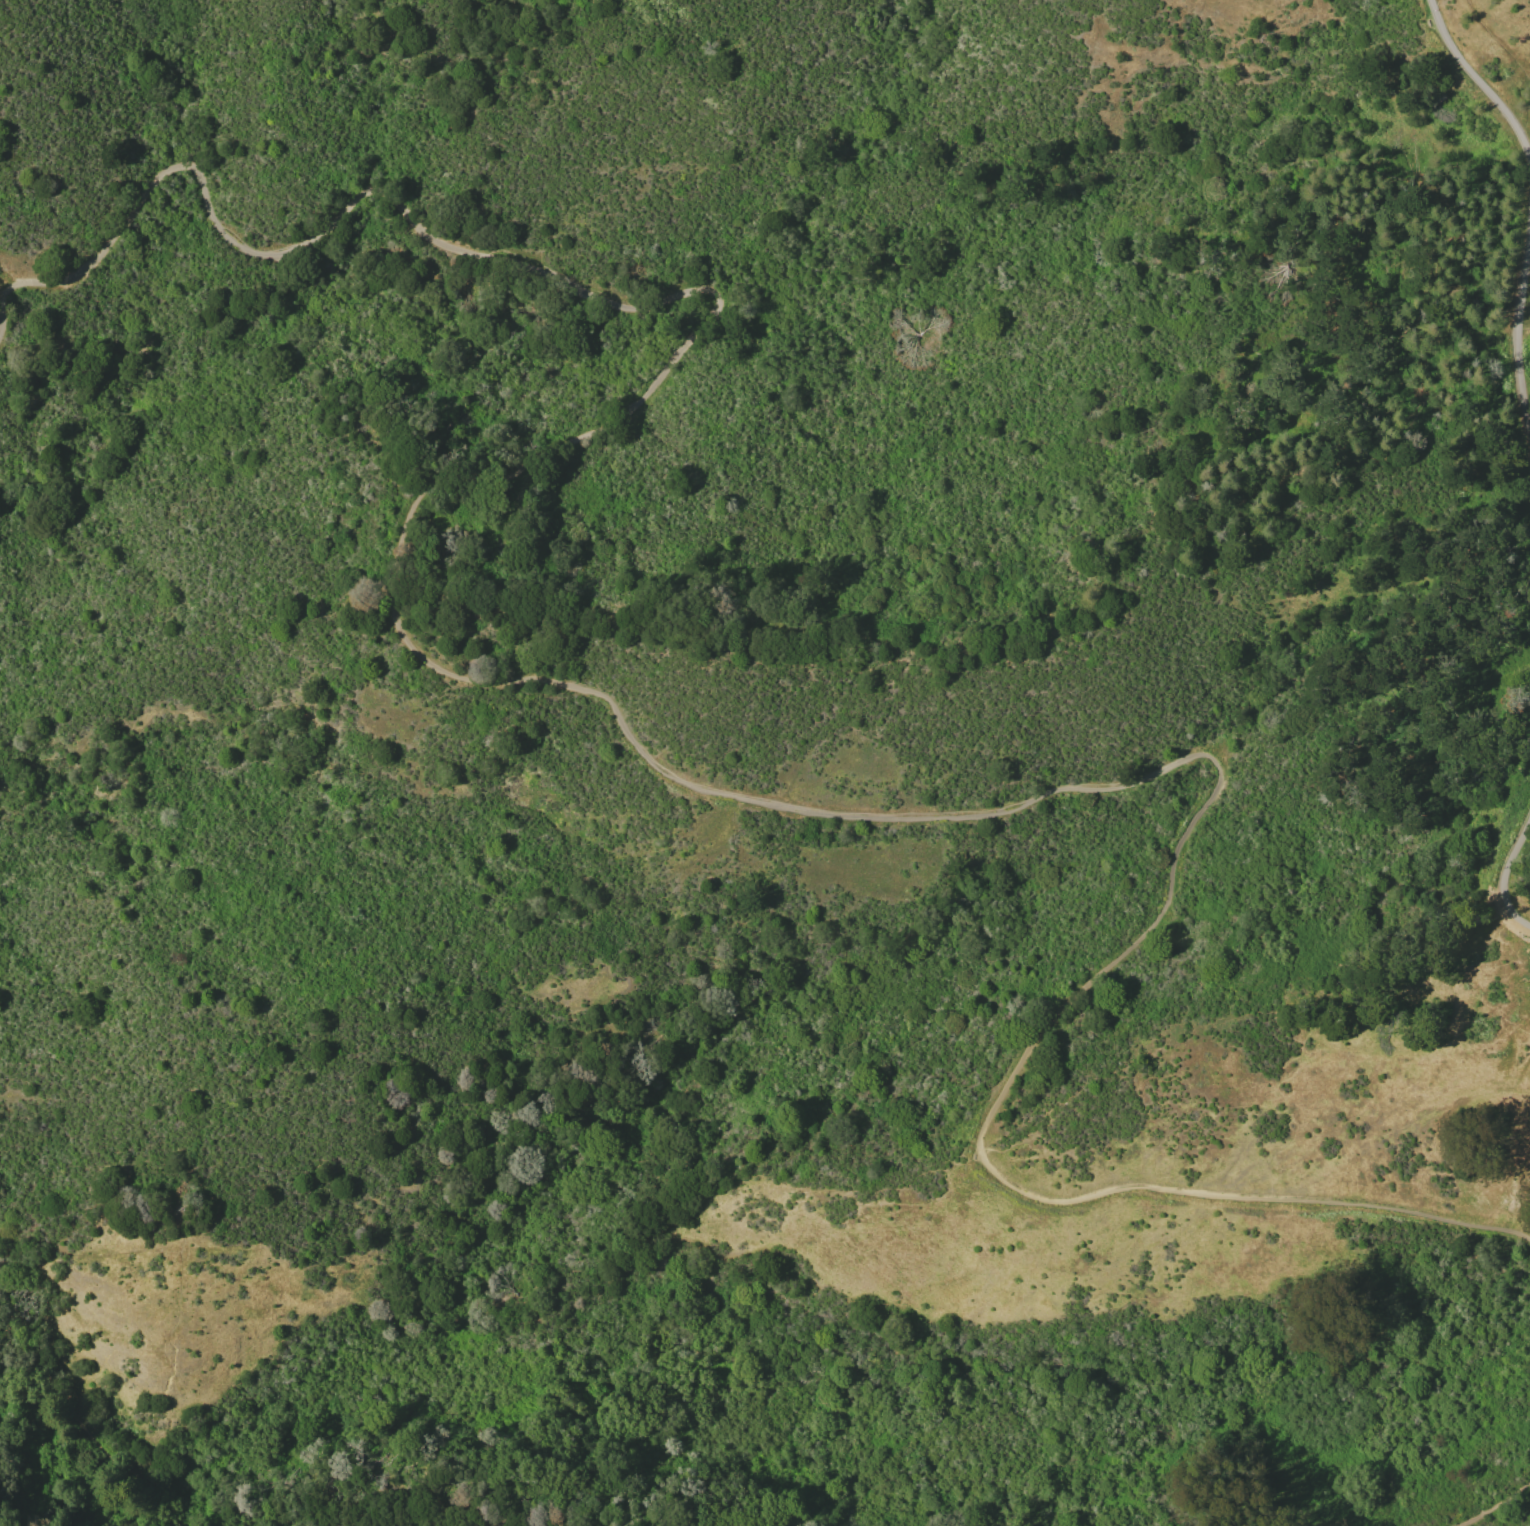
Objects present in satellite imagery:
road: (1478, 79)
road: (1519, 330)
road: (619, 715)
road: (1506, 876)
road: (92, 1441)
road: (1493, 1506)

